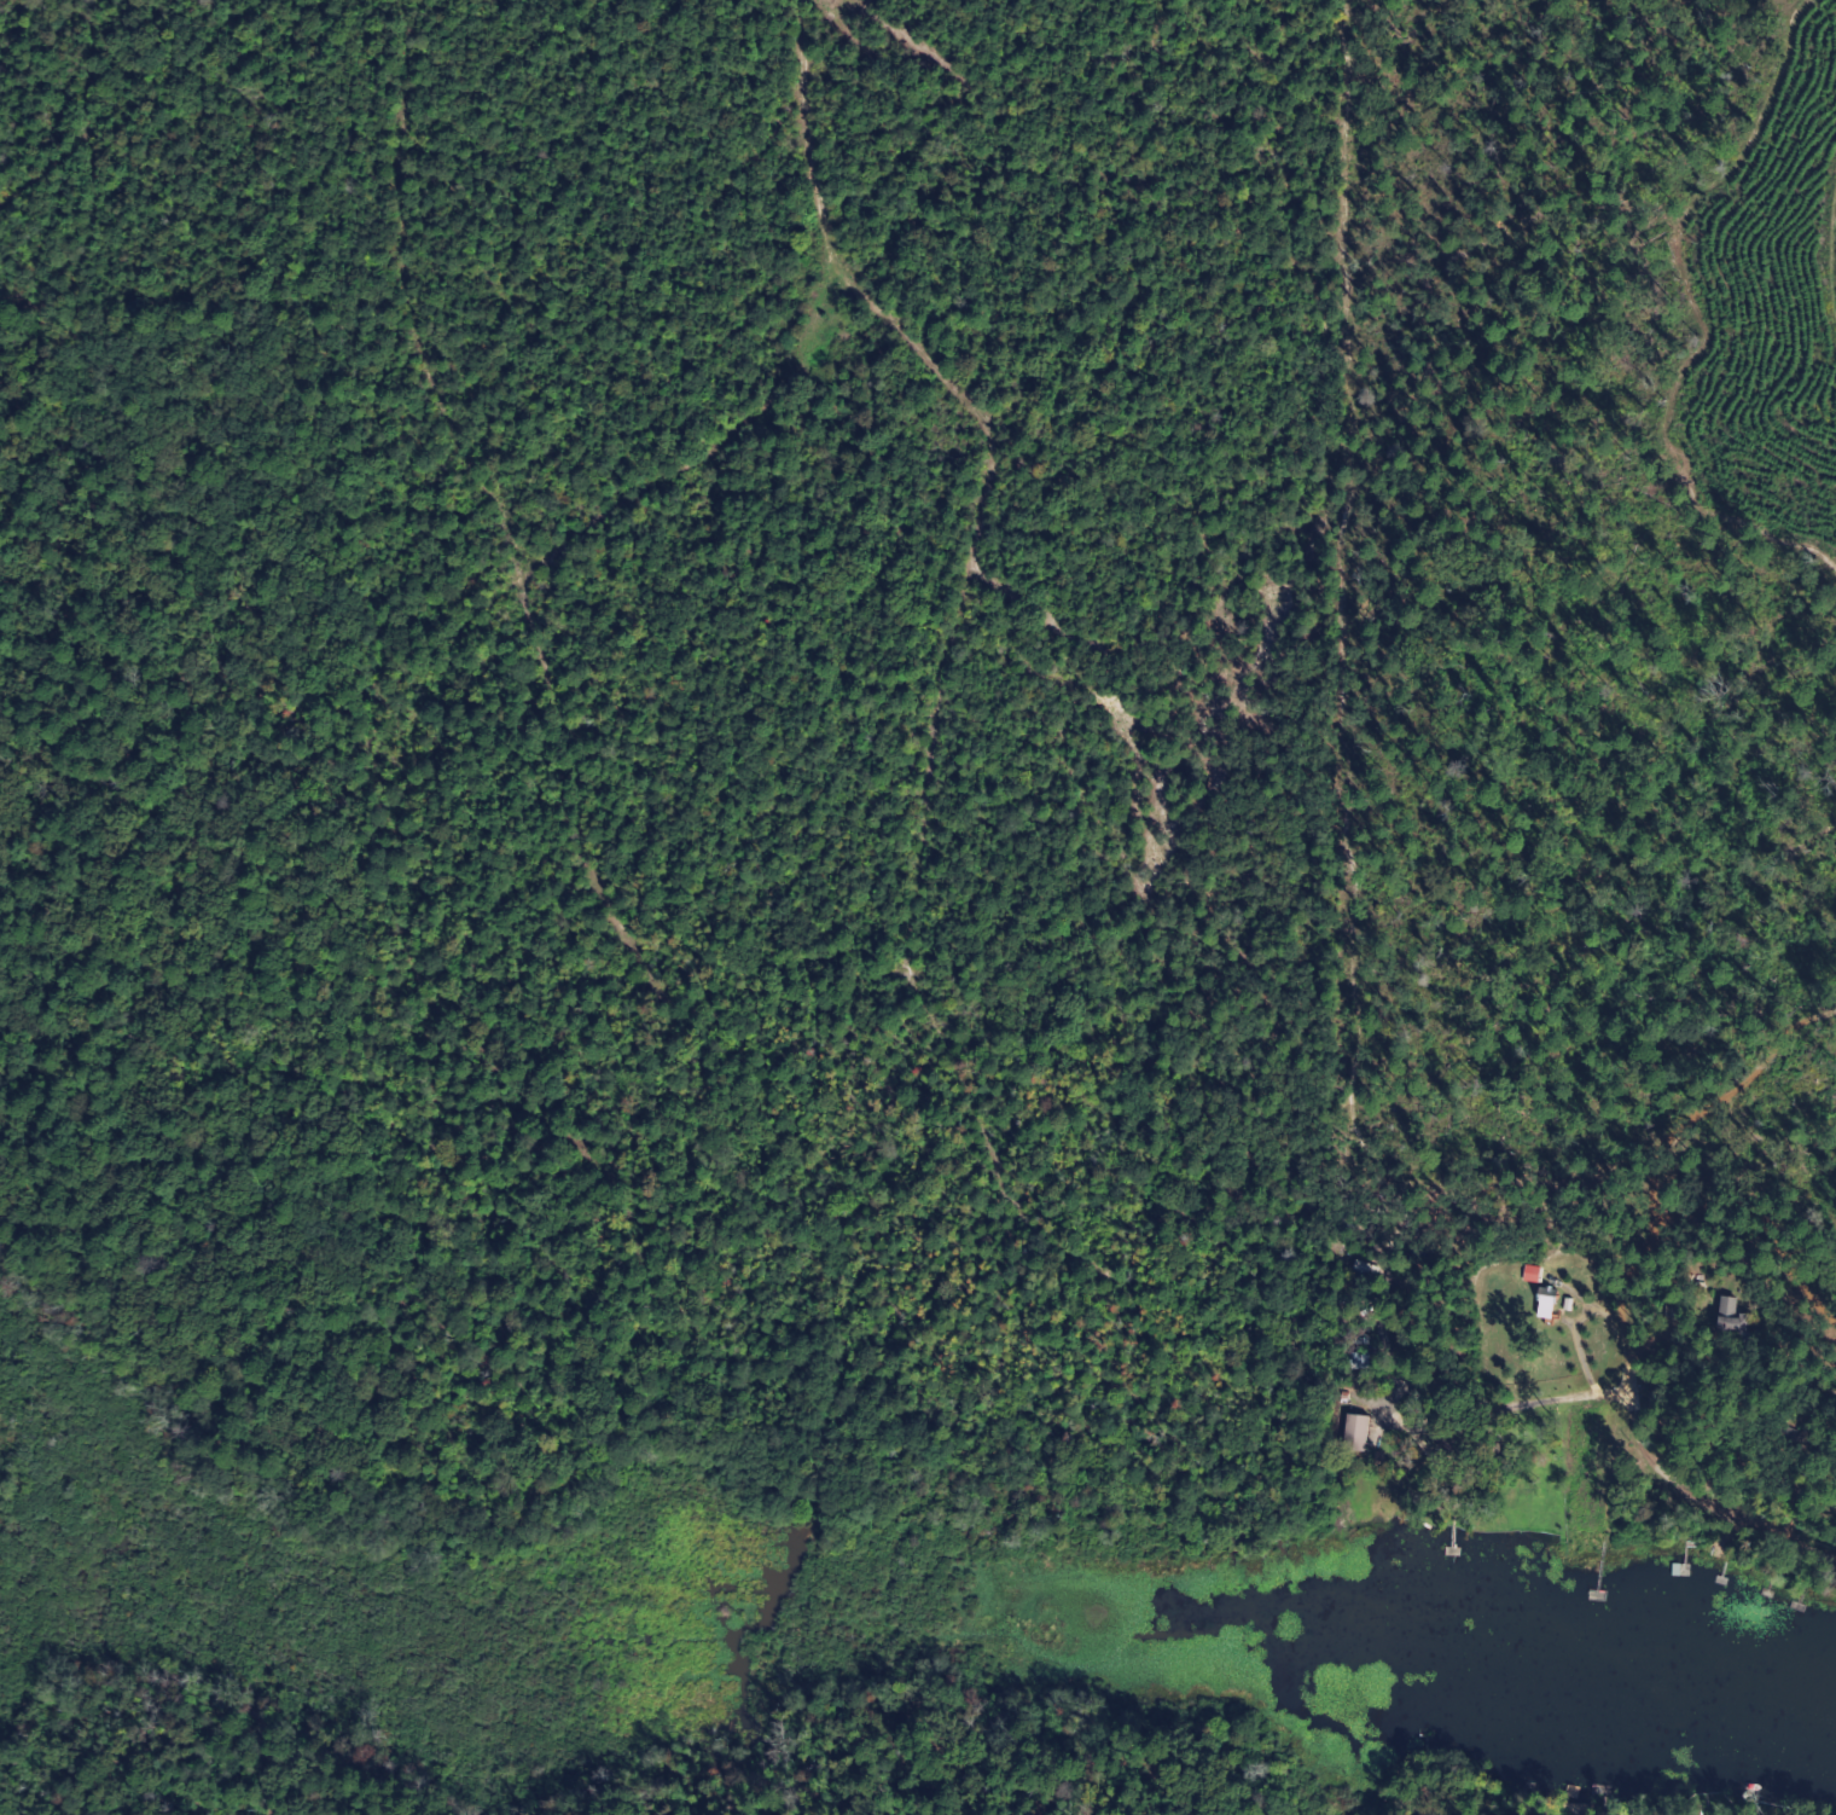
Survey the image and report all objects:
road: (1817, 256)
building: (1535, 1272)
building: (1552, 1305)
building: (1359, 1432)
road: (1637, 1446)
river: (368, 1672)

